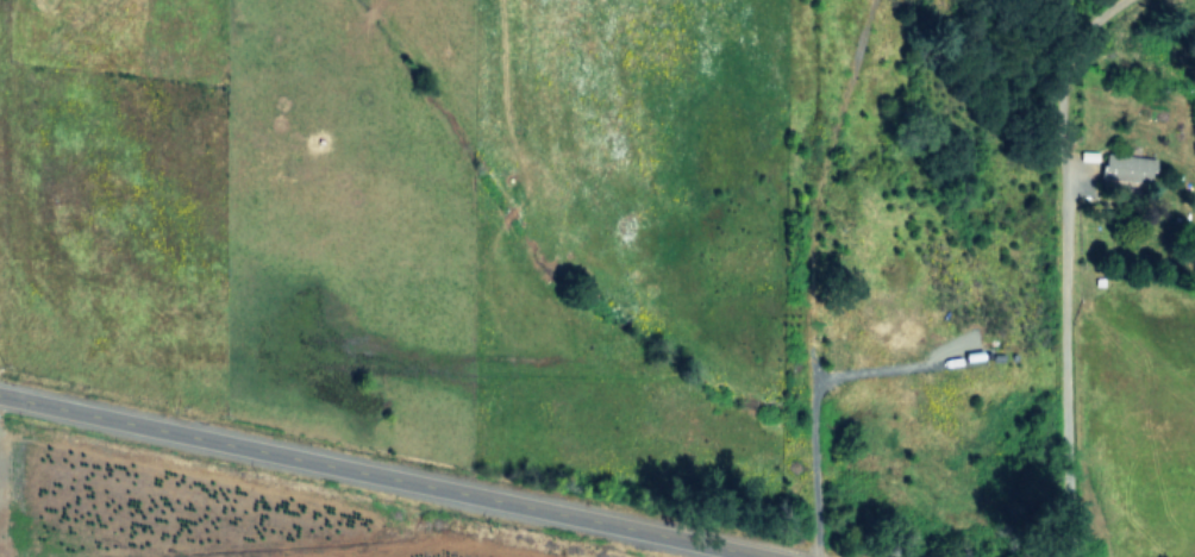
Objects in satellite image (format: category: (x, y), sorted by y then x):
building: (1126, 167)
road: (1069, 264)
road: (376, 476)
crop: (176, 517)

